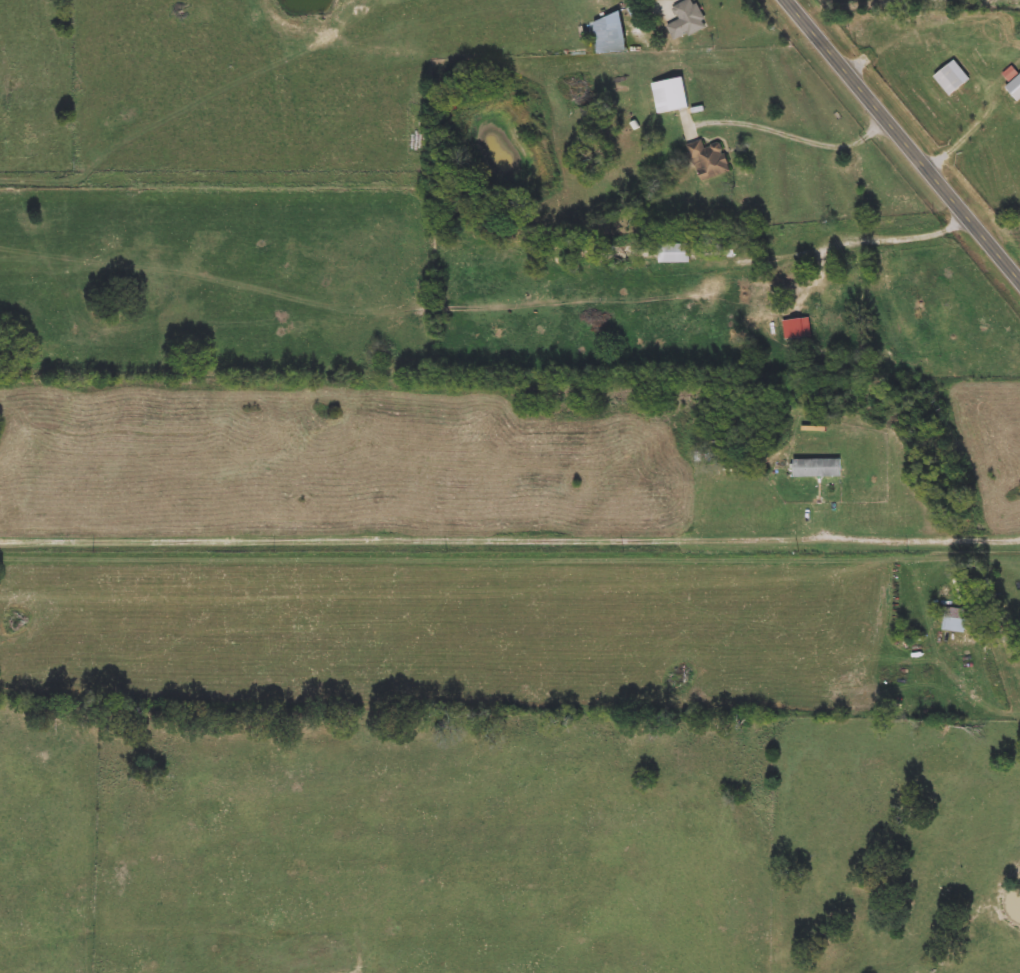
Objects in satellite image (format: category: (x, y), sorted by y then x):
building: (687, 20)
building: (610, 43)
building: (949, 80)
building: (1015, 88)
building: (671, 95)
road: (972, 127)
road: (910, 132)
road: (802, 137)
building: (710, 160)
road: (910, 236)
building: (945, 312)
road: (996, 334)
building: (817, 468)
road: (510, 539)
building: (956, 620)

